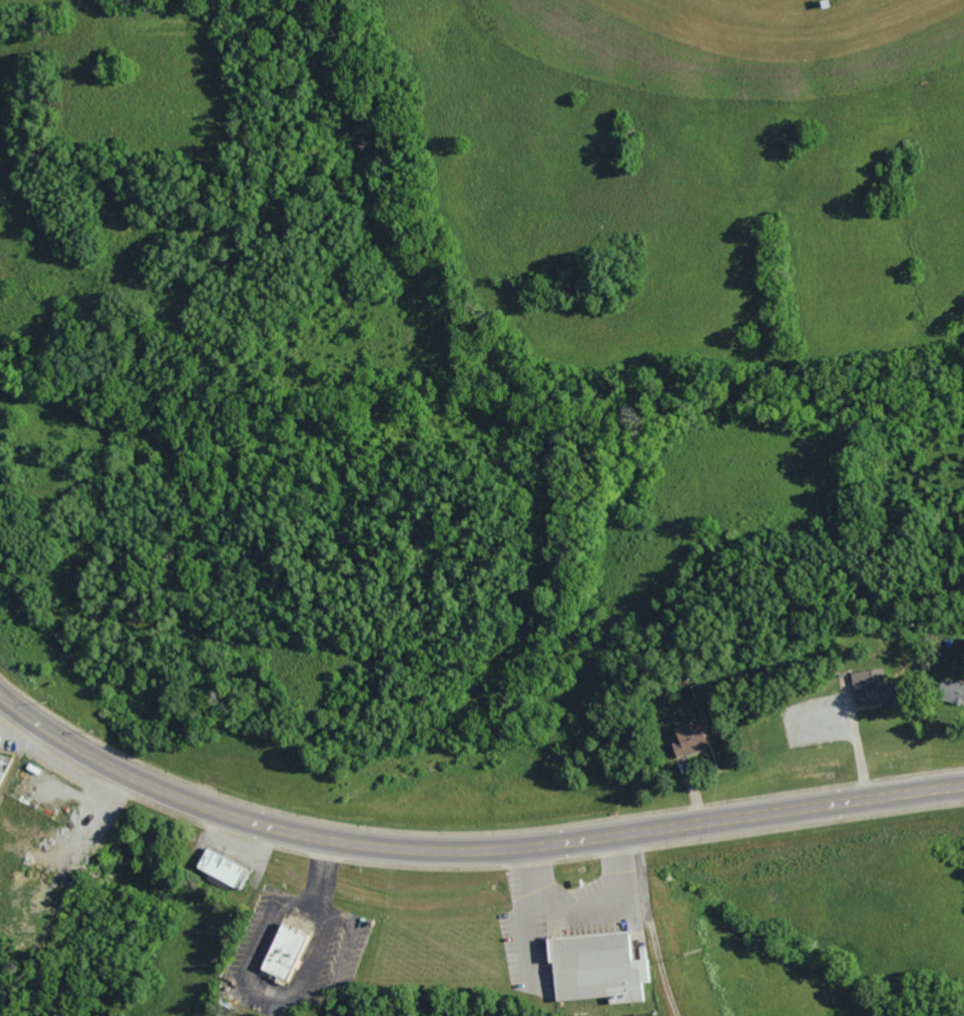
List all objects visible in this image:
road: (67, 743)
building: (1, 761)
road: (550, 839)
building: (219, 869)
road: (657, 923)
building: (280, 953)
building: (593, 969)
road: (288, 994)

